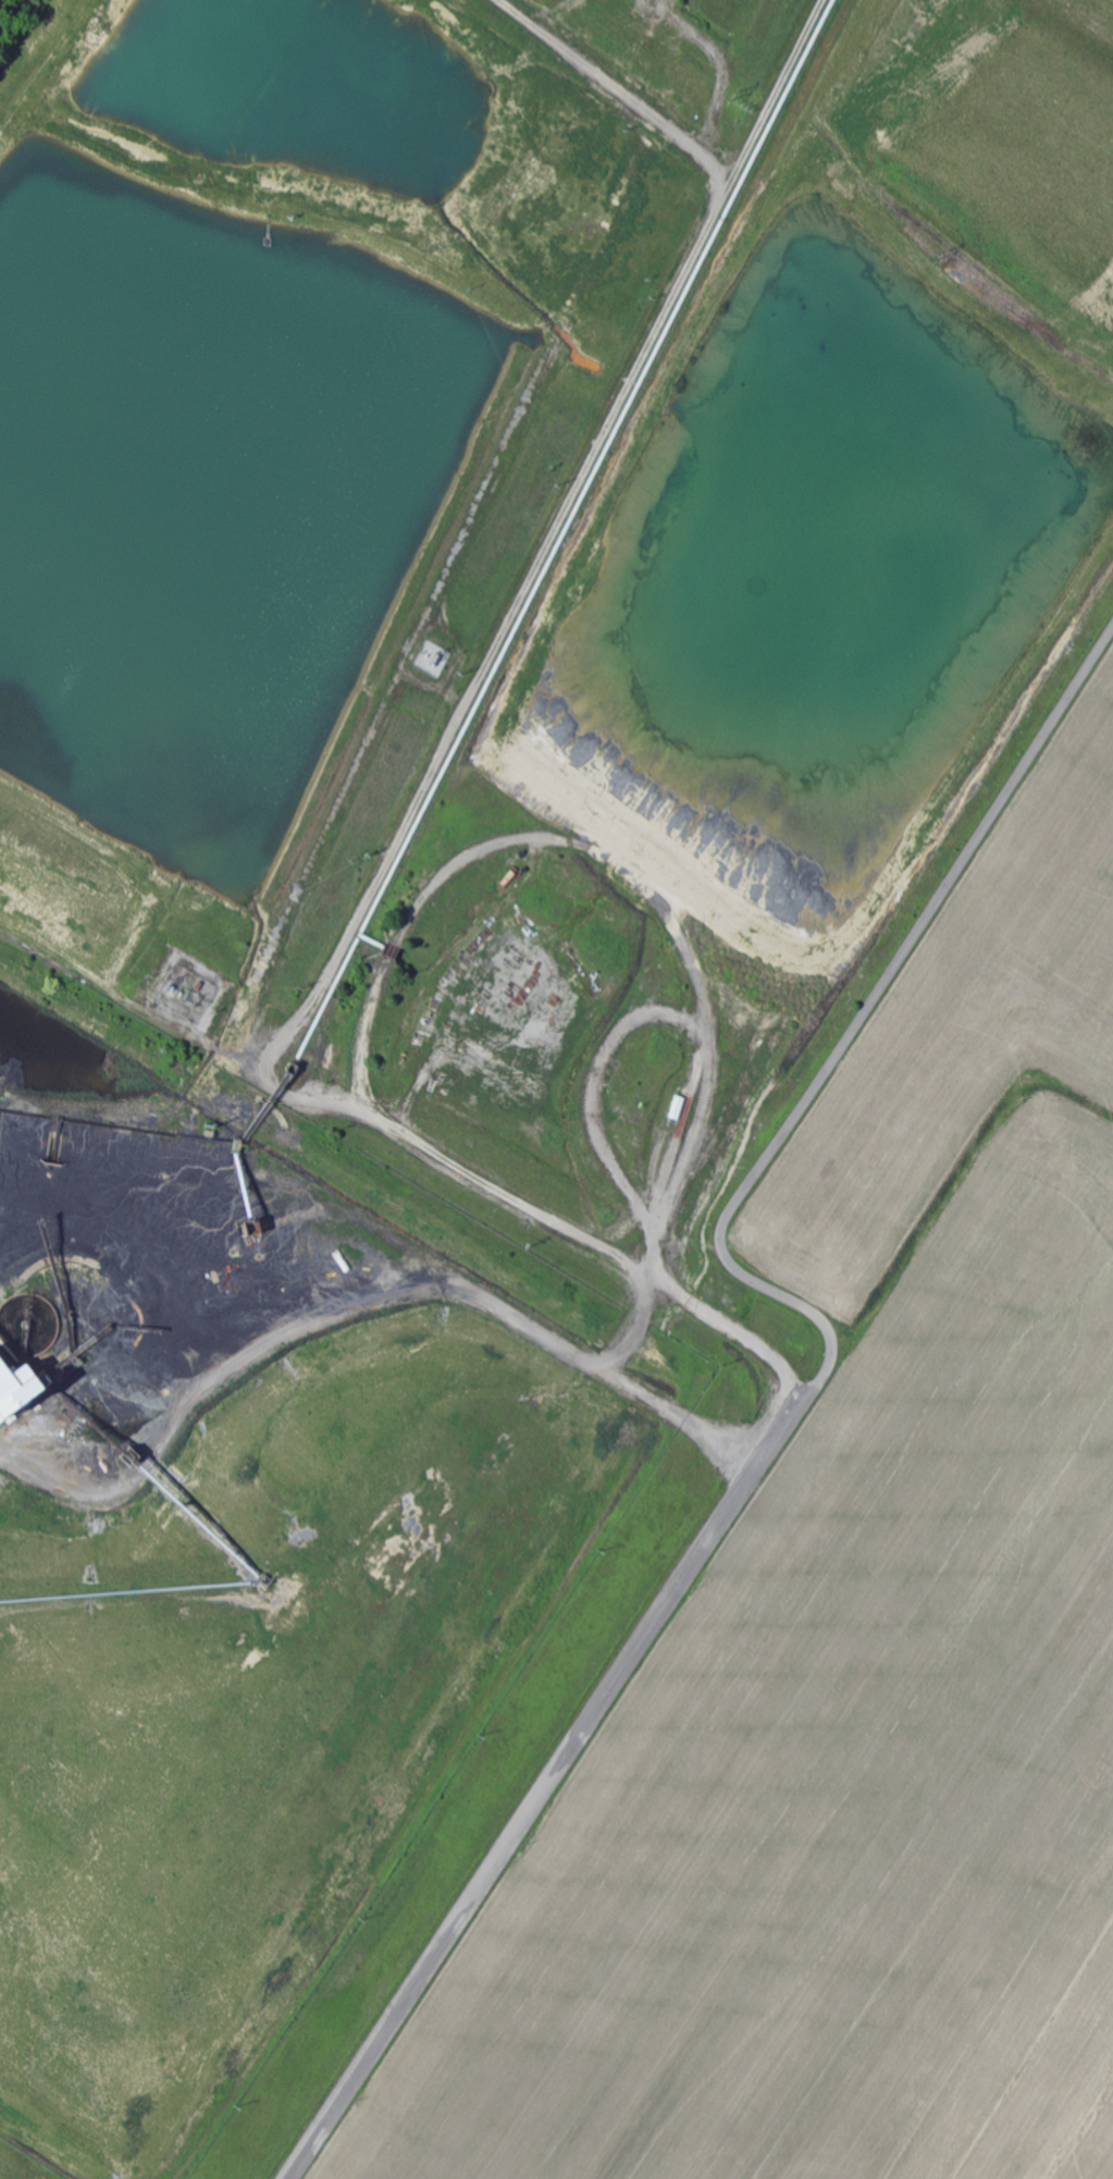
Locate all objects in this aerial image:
building: (16, 1393)
road: (808, 1394)
quarry: (249, 1551)

